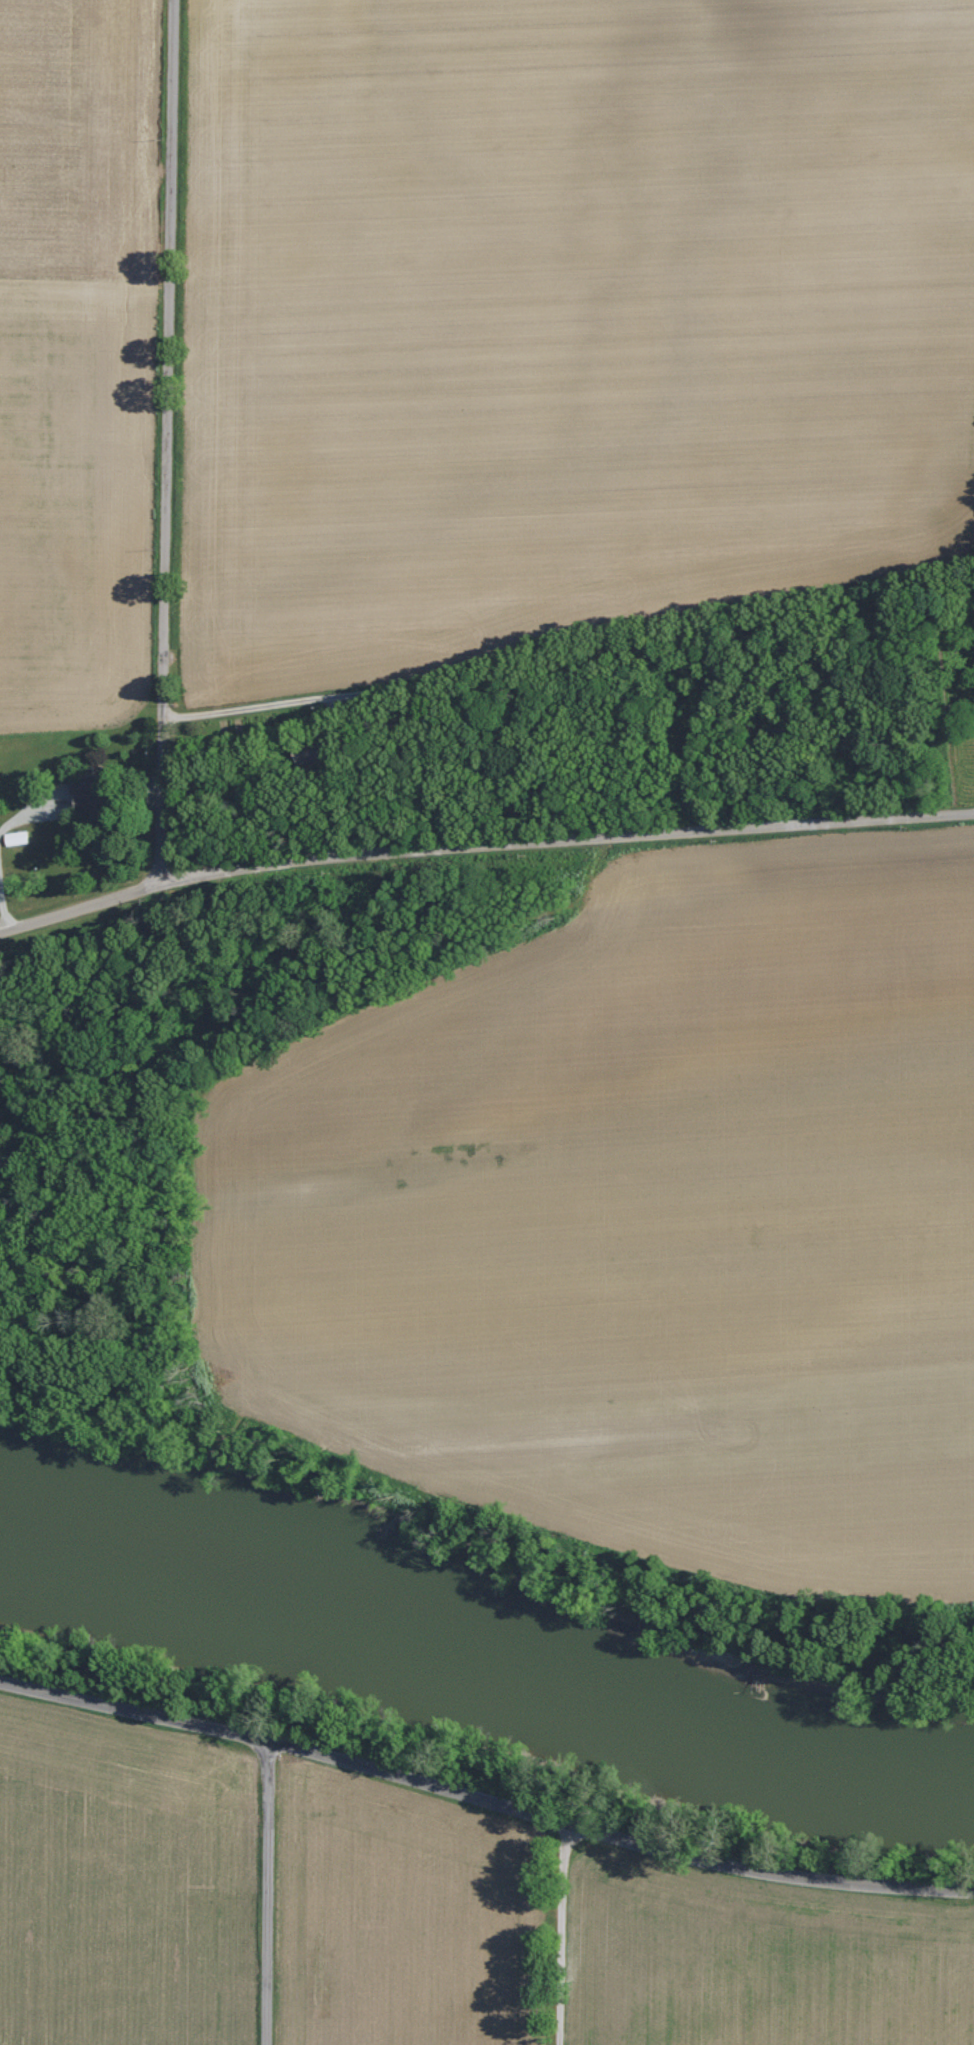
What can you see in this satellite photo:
road: (159, 444)
road: (568, 650)
building: (90, 795)
road: (30, 816)
road: (483, 857)
river: (482, 1666)
road: (485, 1797)
road: (267, 1891)
road: (557, 1932)

